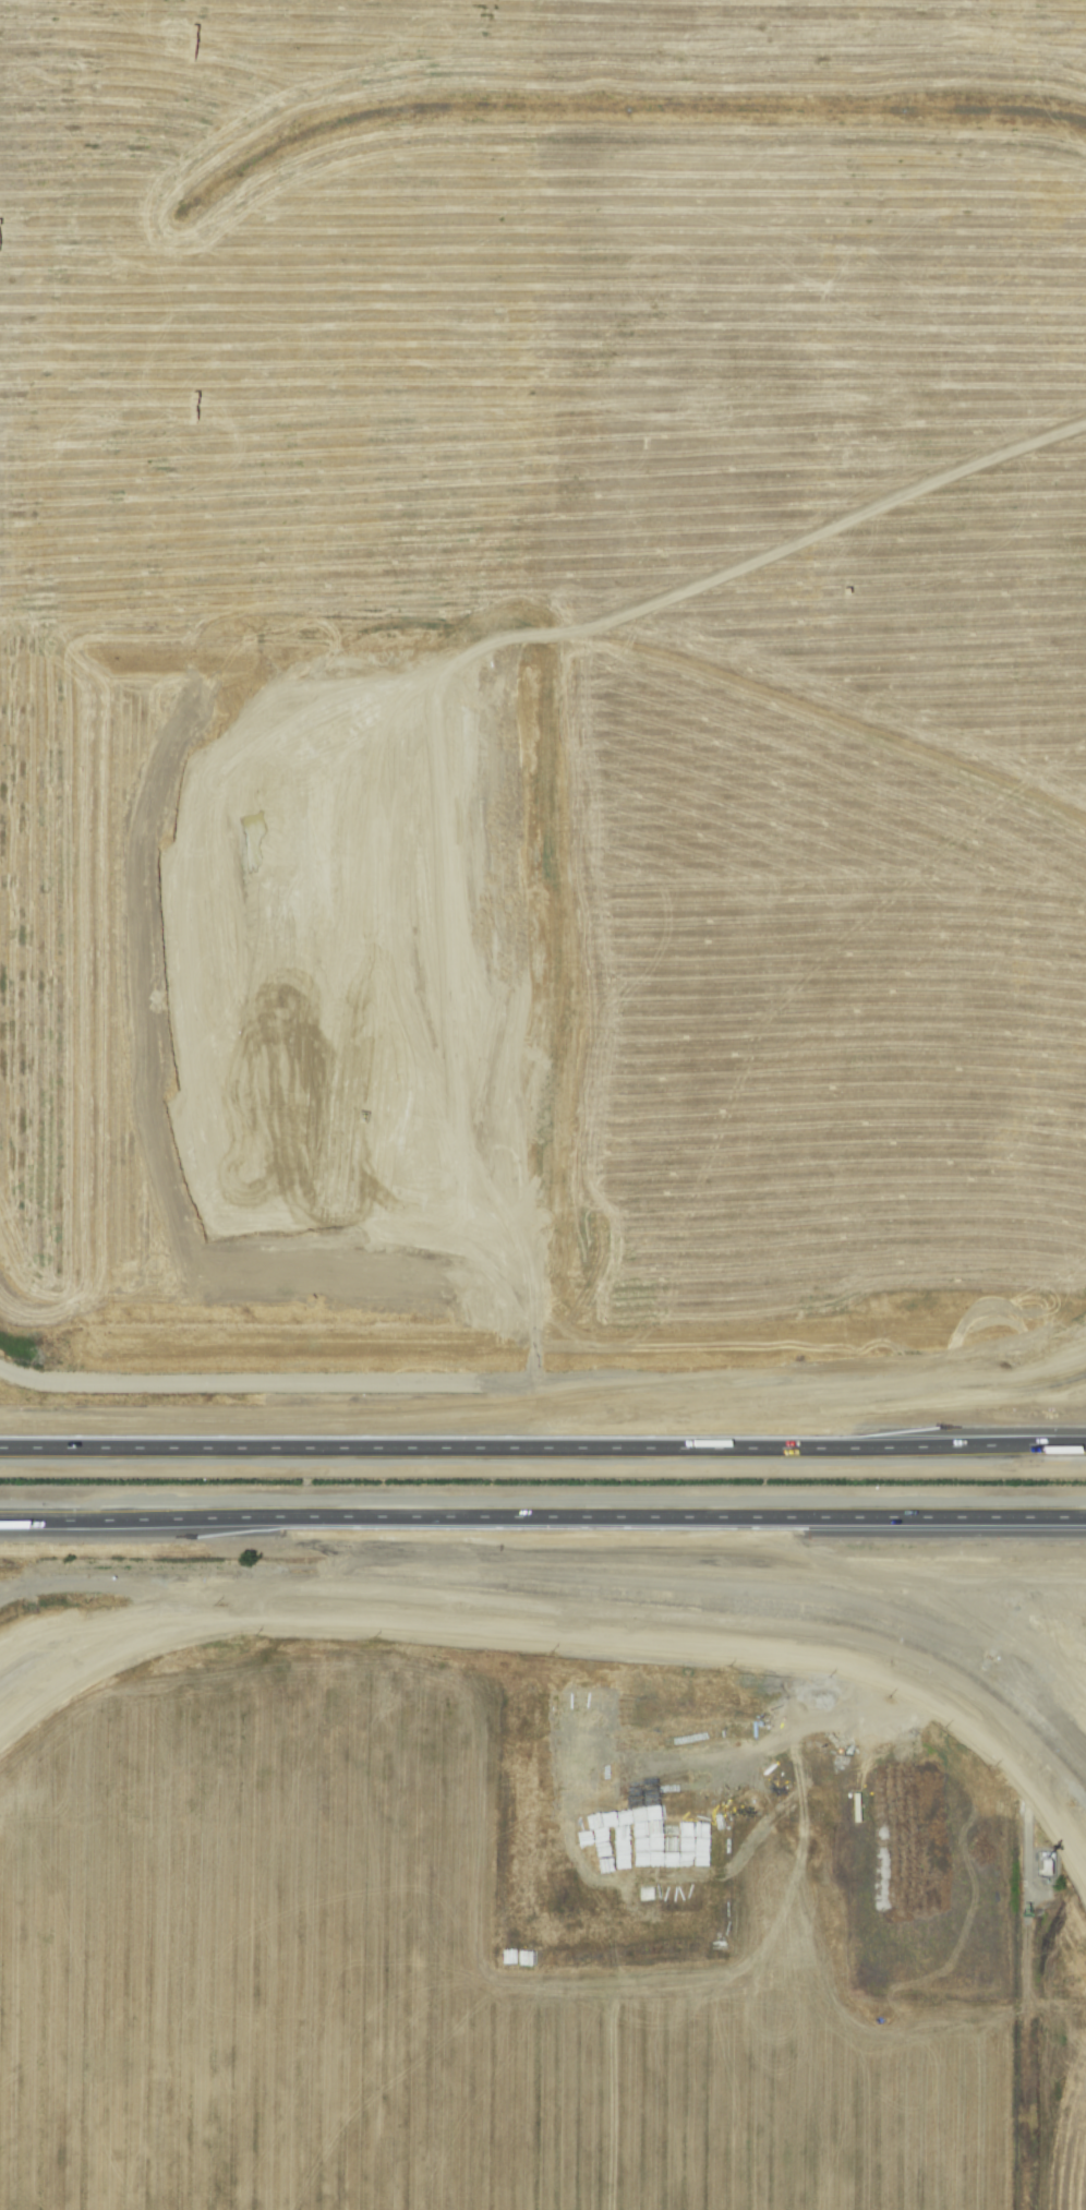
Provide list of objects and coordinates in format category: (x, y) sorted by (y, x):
road: (41, 1382)
road: (286, 1391)
road: (777, 1403)
road: (543, 1442)
road: (232, 1523)
road: (775, 1525)
road: (793, 1571)
road: (569, 1631)

